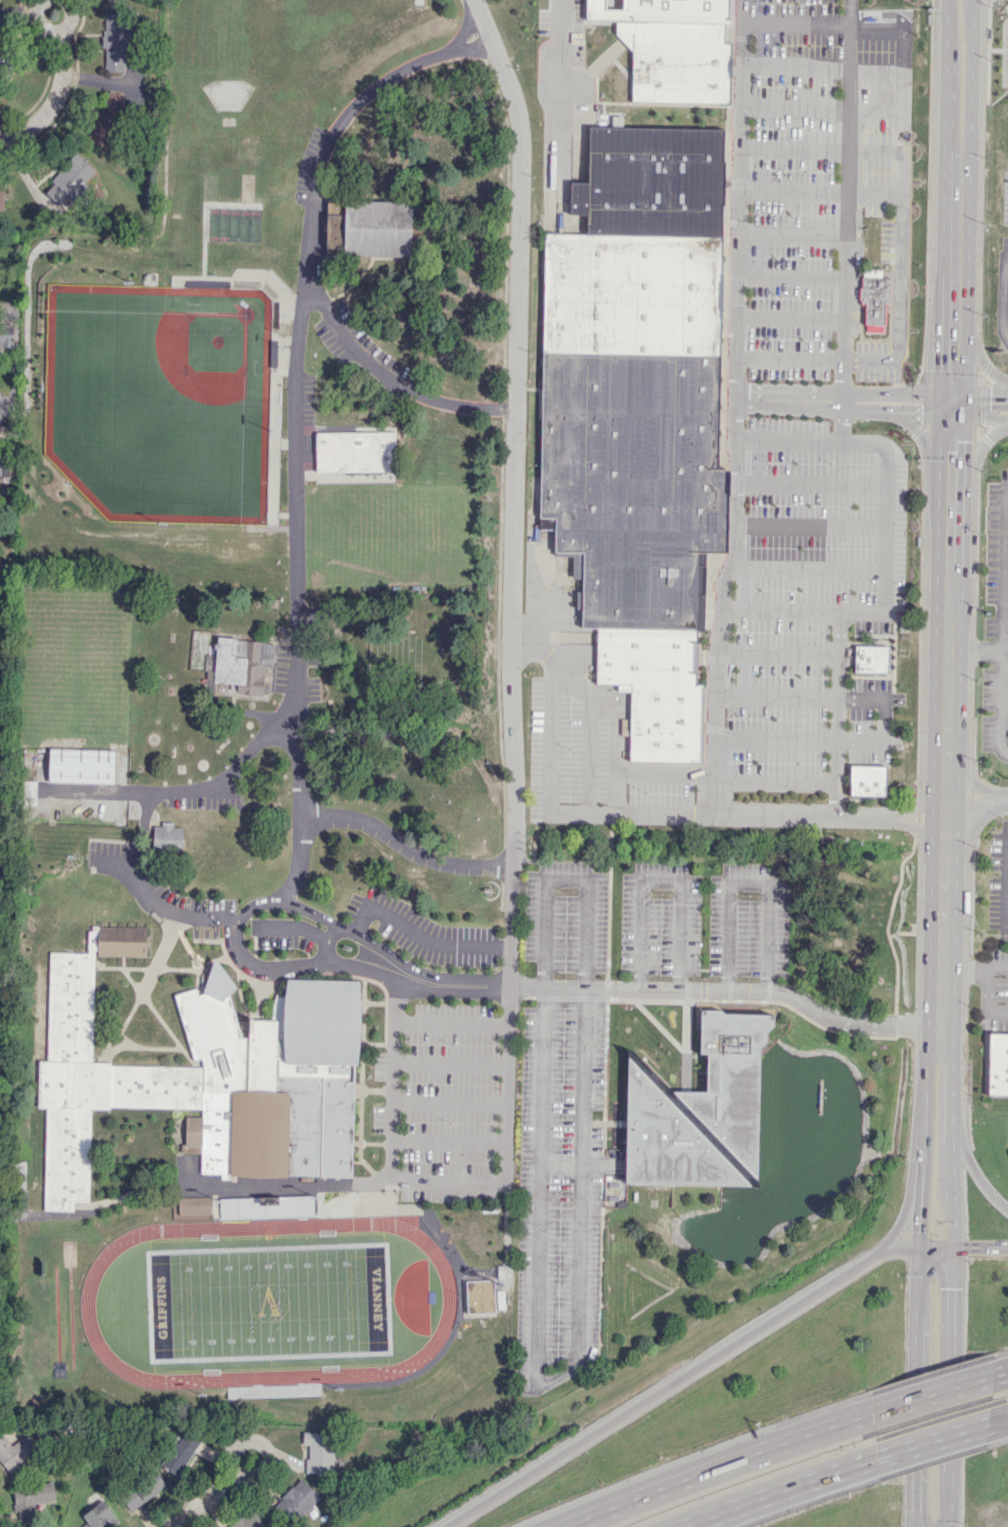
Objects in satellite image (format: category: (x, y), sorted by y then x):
road: (971, 9)
building: (672, 10)
road: (17, 14)
road: (946, 15)
road: (69, 17)
road: (36, 22)
road: (795, 23)
building: (0, 40)
building: (115, 42)
building: (678, 61)
building: (1, 62)
road: (794, 66)
road: (903, 67)
road: (876, 68)
road: (562, 83)
road: (970, 85)
road: (944, 90)
road: (51, 99)
road: (794, 106)
building: (106, 119)
road: (793, 148)
road: (898, 173)
building: (70, 180)
building: (652, 182)
road: (792, 190)
parking lot: (818, 190)
road: (846, 196)
building: (1, 197)
parking lot: (1005, 199)
building: (334, 206)
building: (370, 229)
road: (791, 236)
road: (954, 237)
parking lot: (1004, 256)
road: (856, 266)
road: (791, 276)
building: (632, 293)
building: (874, 298)
road: (898, 300)
road: (1003, 300)
road: (790, 318)
building: (6, 339)
road: (789, 357)
road: (976, 358)
traffic signals: (953, 365)
park: (166, 373)
road: (389, 380)
road: (871, 394)
traffic signals: (990, 398)
road: (952, 400)
road: (838, 401)
road: (735, 406)
building: (630, 409)
road: (871, 412)
traffic signals: (921, 417)
road: (296, 422)
road: (786, 438)
road: (927, 443)
traffic signals: (951, 444)
road: (978, 447)
building: (355, 452)
building: (4, 467)
road: (810, 485)
road: (810, 527)
building: (638, 539)
parking lot: (996, 557)
road: (808, 570)
road: (1004, 571)
road: (782, 612)
road: (886, 614)
road: (947, 614)
road: (512, 639)
parking lot: (756, 642)
road: (777, 651)
road: (976, 652)
building: (870, 659)
building: (240, 664)
building: (655, 690)
road: (776, 698)
road: (863, 699)
road: (1001, 705)
parking lot: (994, 709)
road: (615, 725)
road: (775, 741)
road: (862, 742)
road: (588, 752)
building: (81, 766)
road: (944, 768)
road: (664, 772)
building: (868, 779)
road: (971, 781)
road: (774, 784)
road: (196, 791)
road: (548, 793)
road: (923, 802)
road: (976, 810)
road: (805, 815)
road: (943, 823)
building: (167, 837)
road: (923, 838)
road: (406, 844)
road: (567, 878)
road: (659, 881)
road: (1005, 881)
road: (749, 883)
road: (154, 900)
parking lot: (564, 917)
parking lot: (659, 920)
parking lot: (747, 921)
road: (230, 928)
road: (293, 928)
road: (420, 936)
road: (325, 943)
road: (942, 945)
road: (964, 968)
road: (997, 969)
road: (727, 990)
parking lot: (993, 990)
road: (985, 1001)
road: (451, 1024)
building: (997, 1061)
road: (450, 1063)
building: (205, 1078)
road: (392, 1086)
road: (450, 1103)
building: (699, 1107)
road: (449, 1143)
road: (951, 1156)
road: (559, 1167)
road: (972, 1167)
road: (449, 1180)
parking lot: (559, 1191)
building: (191, 1206)
road: (904, 1212)
traffic signals: (918, 1232)
traffic signals: (966, 1246)
road: (957, 1247)
road: (915, 1275)
traffic signals: (953, 1288)
building: (480, 1296)
track: (424, 1301)
park: (268, 1304)
road: (699, 1365)
road: (1000, 1373)
road: (549, 1381)
road: (932, 1393)
road: (951, 1405)
road: (997, 1422)
road: (931, 1441)
building: (16, 1452)
building: (181, 1452)
building: (318, 1452)
road: (262, 1463)
road: (716, 1466)
building: (142, 1490)
road: (778, 1491)
building: (31, 1500)
building: (296, 1500)
road: (200, 1505)
traffic signals: (914, 1511)
building: (99, 1516)
road: (919, 1519)
building: (248, 1520)
road: (948, 1525)
road: (949, 1525)

